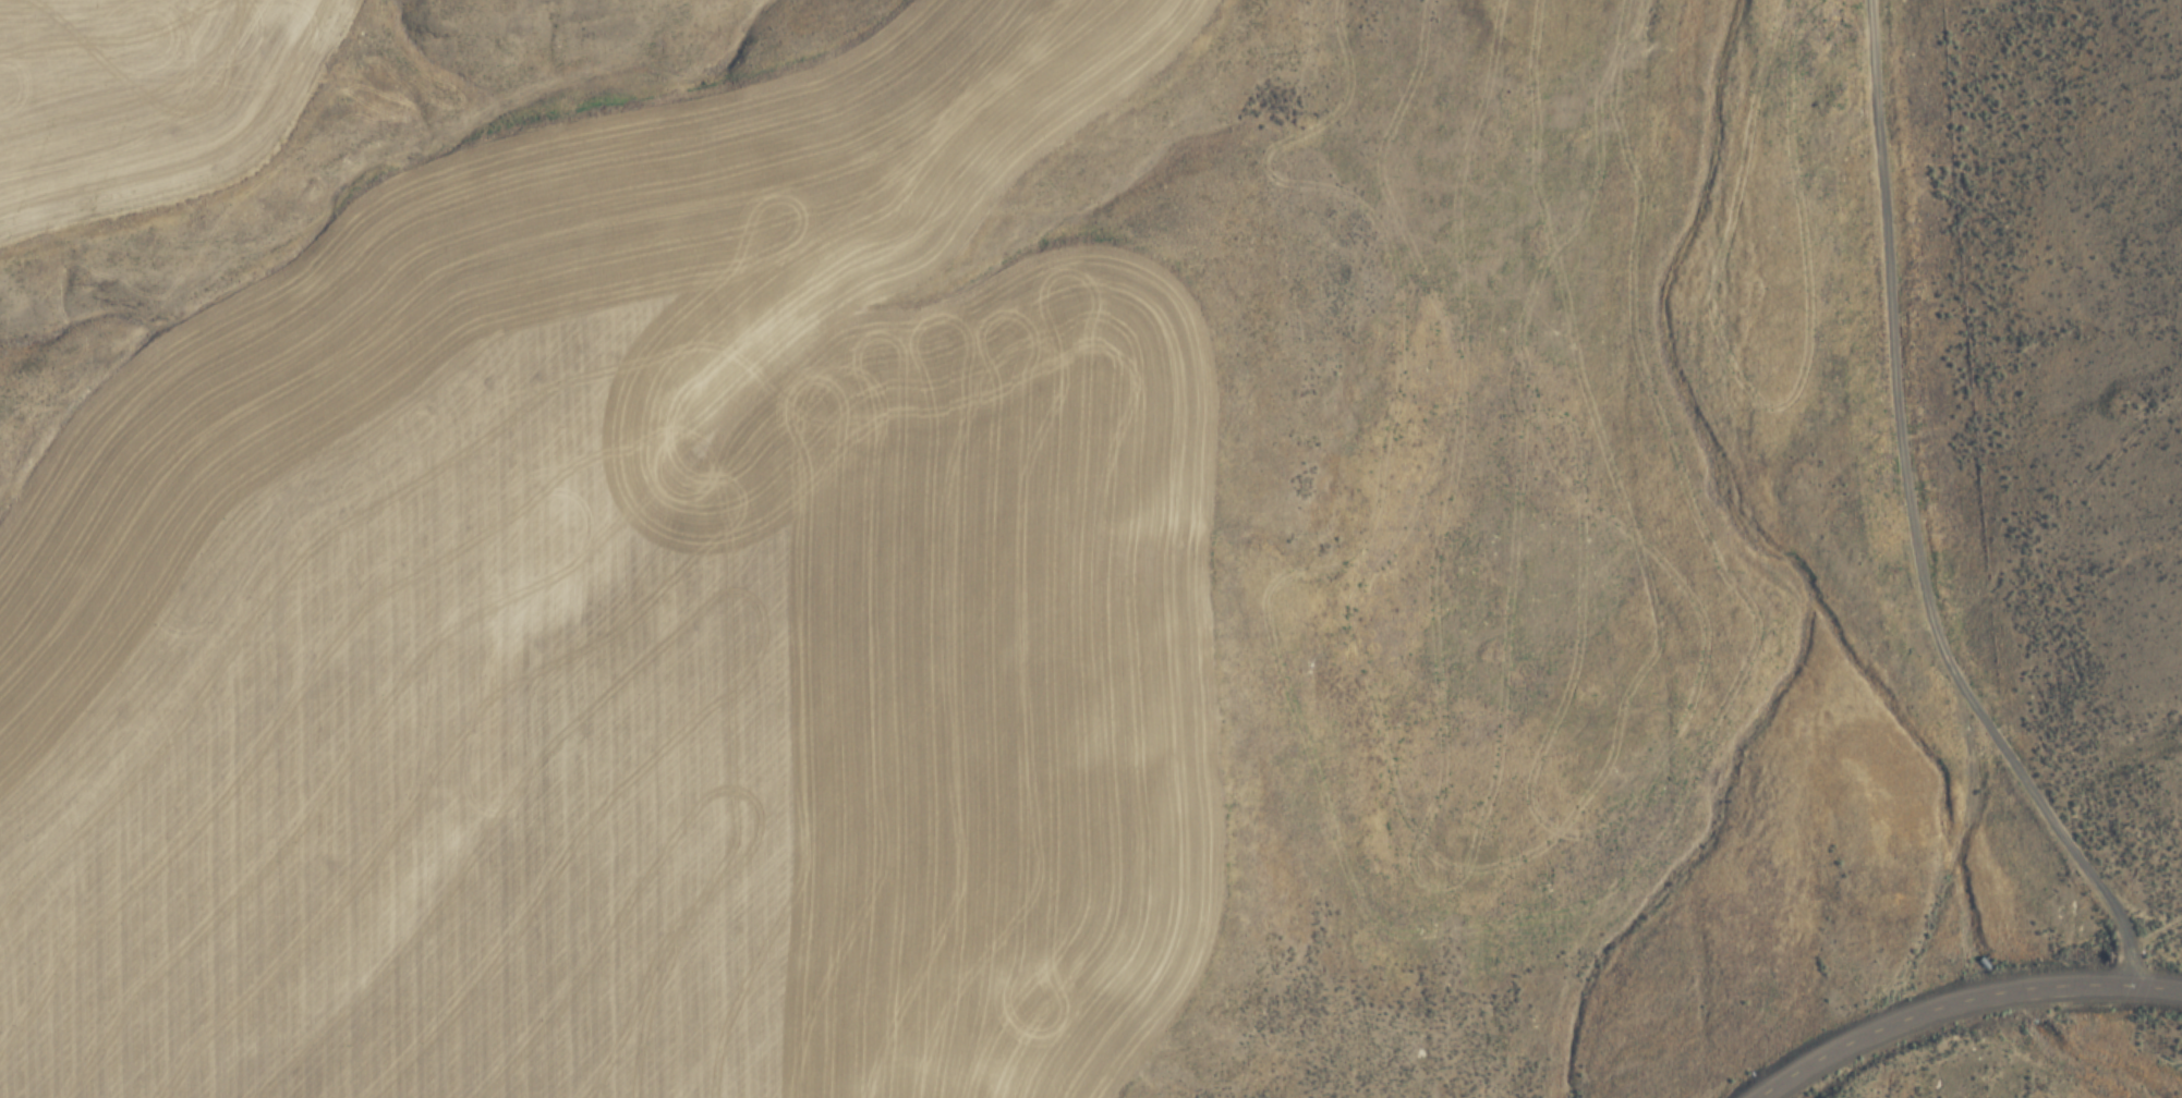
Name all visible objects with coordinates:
road: (1912, 522)
road: (1956, 999)

